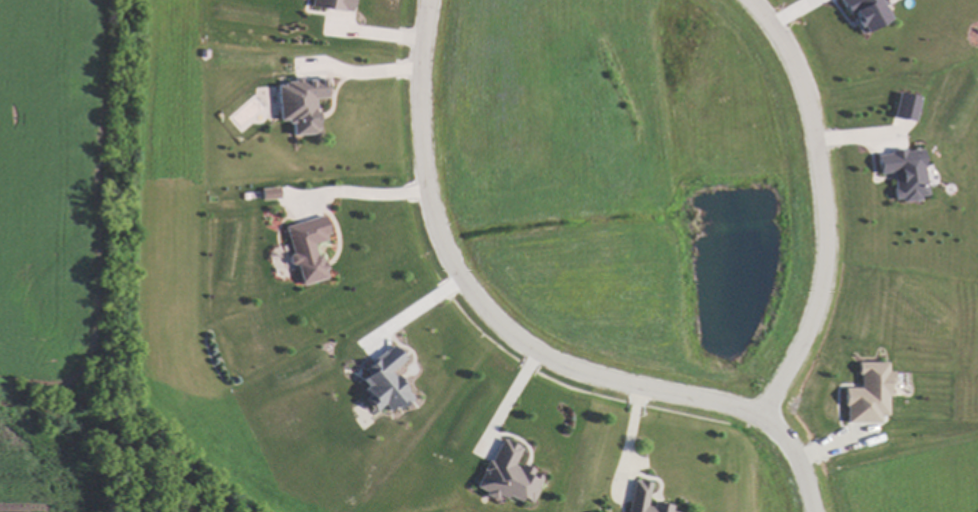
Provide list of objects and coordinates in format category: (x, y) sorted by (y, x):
building: (331, 3)
building: (865, 12)
road: (364, 73)
building: (298, 102)
building: (905, 104)
building: (903, 172)
road: (358, 188)
building: (268, 192)
road: (825, 206)
crop: (45, 241)
building: (304, 247)
road: (477, 300)
road: (414, 306)
building: (382, 380)
building: (867, 393)
road: (506, 401)
road: (627, 440)
road: (797, 459)
building: (504, 474)
building: (642, 499)

